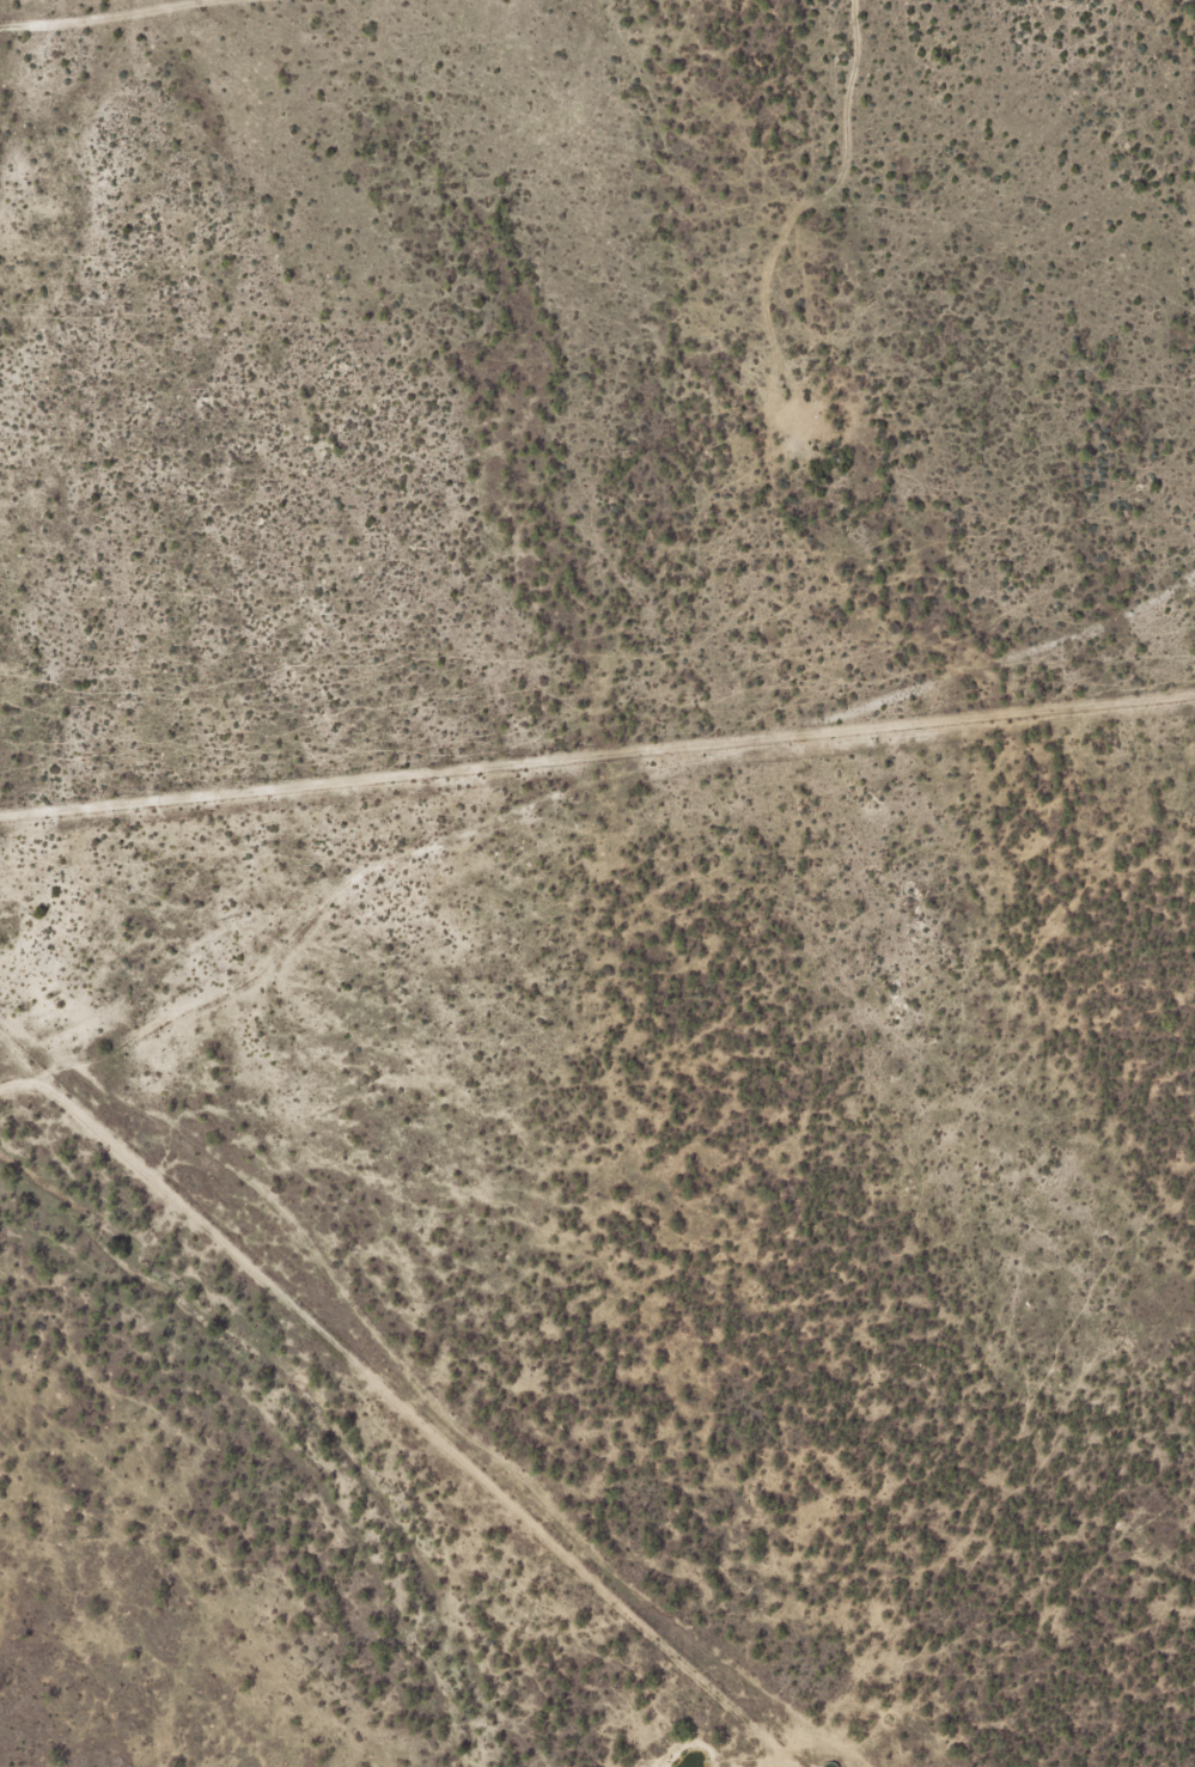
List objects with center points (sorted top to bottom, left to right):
road: (574, 834)
road: (472, 1430)

